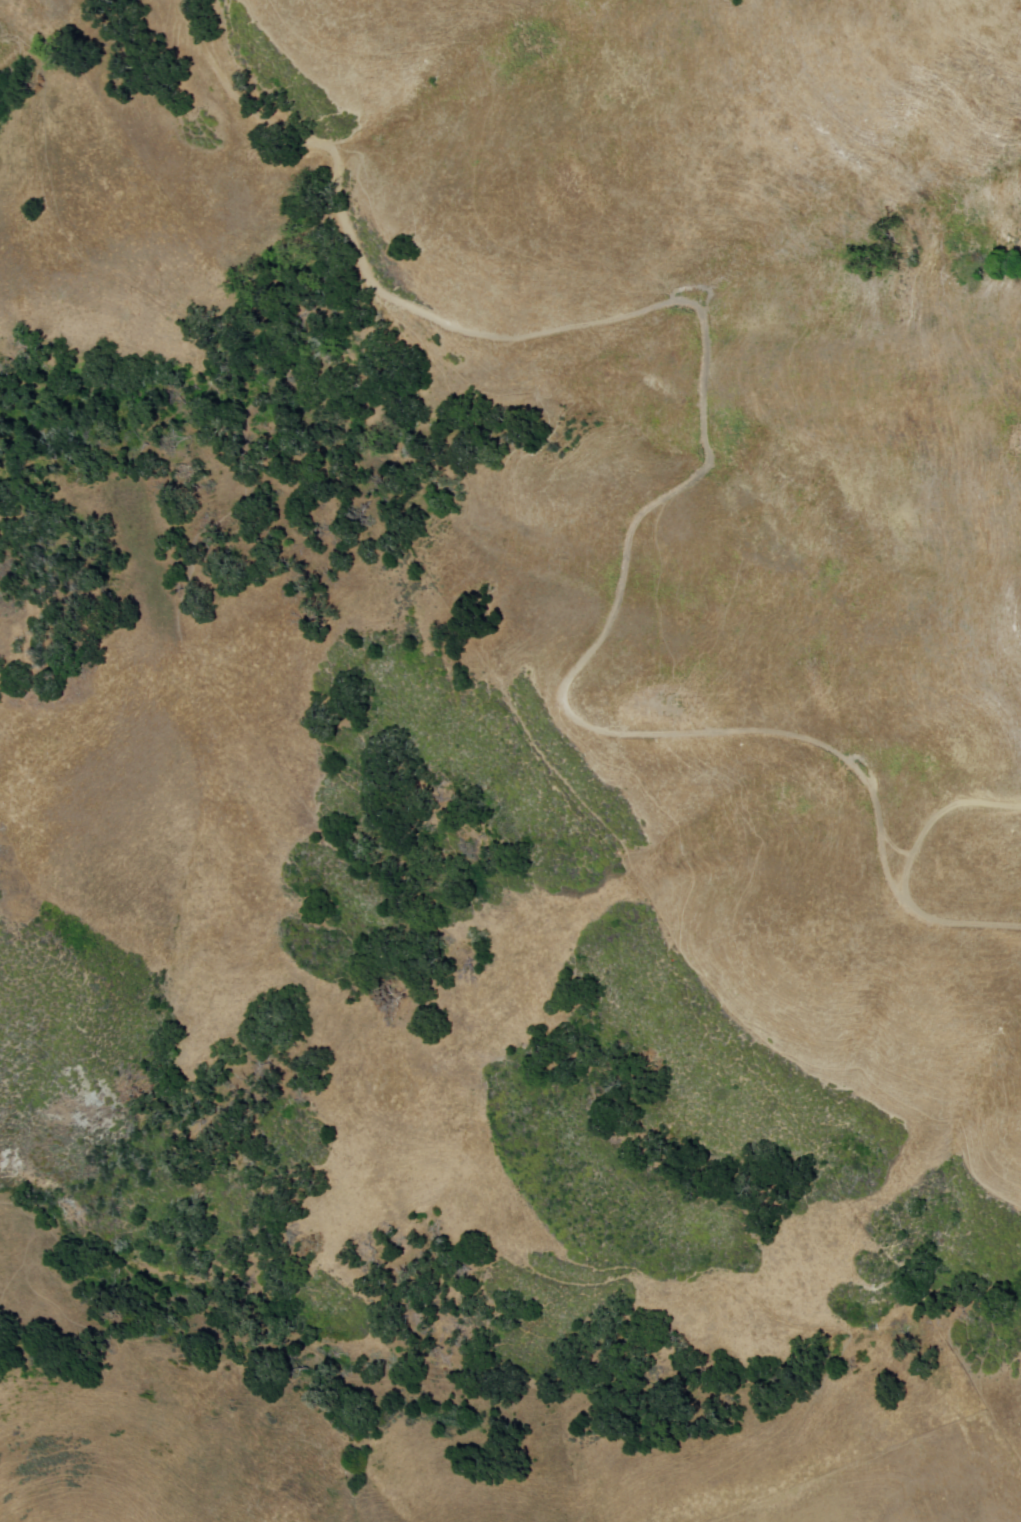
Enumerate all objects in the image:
road: (906, 870)

